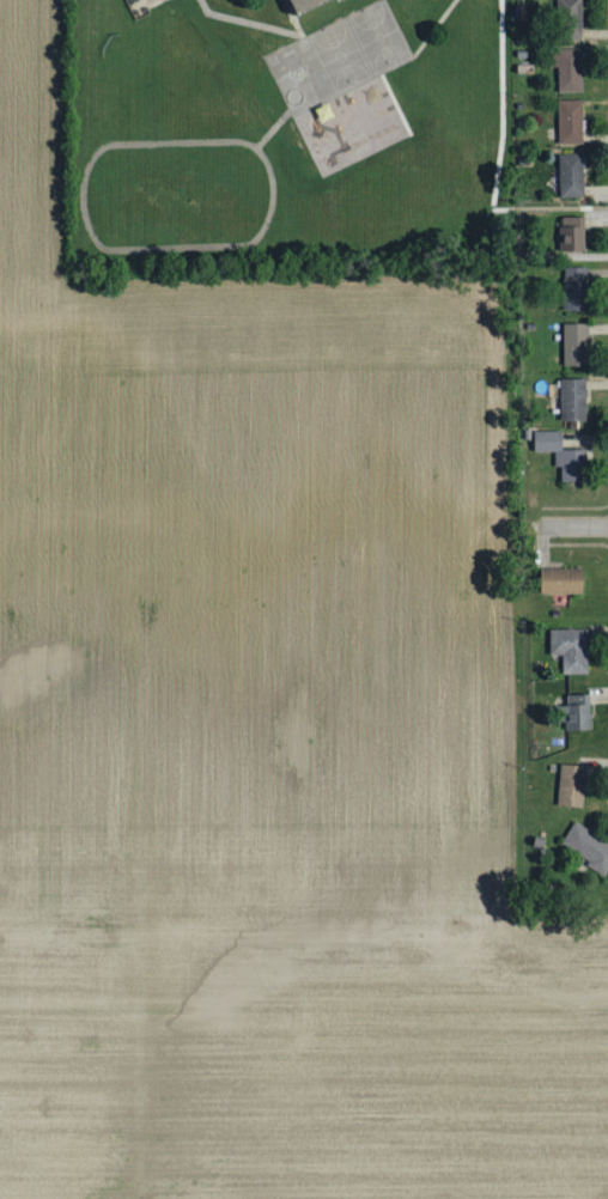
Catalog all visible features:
building: (303, 6)
building: (567, 19)
park: (359, 44)
building: (569, 68)
building: (570, 121)
building: (571, 175)
building: (573, 232)
building: (576, 288)
building: (576, 345)
building: (573, 400)
building: (564, 455)
road: (574, 527)
building: (561, 579)
building: (570, 649)
building: (576, 713)
building: (571, 785)
building: (588, 847)

